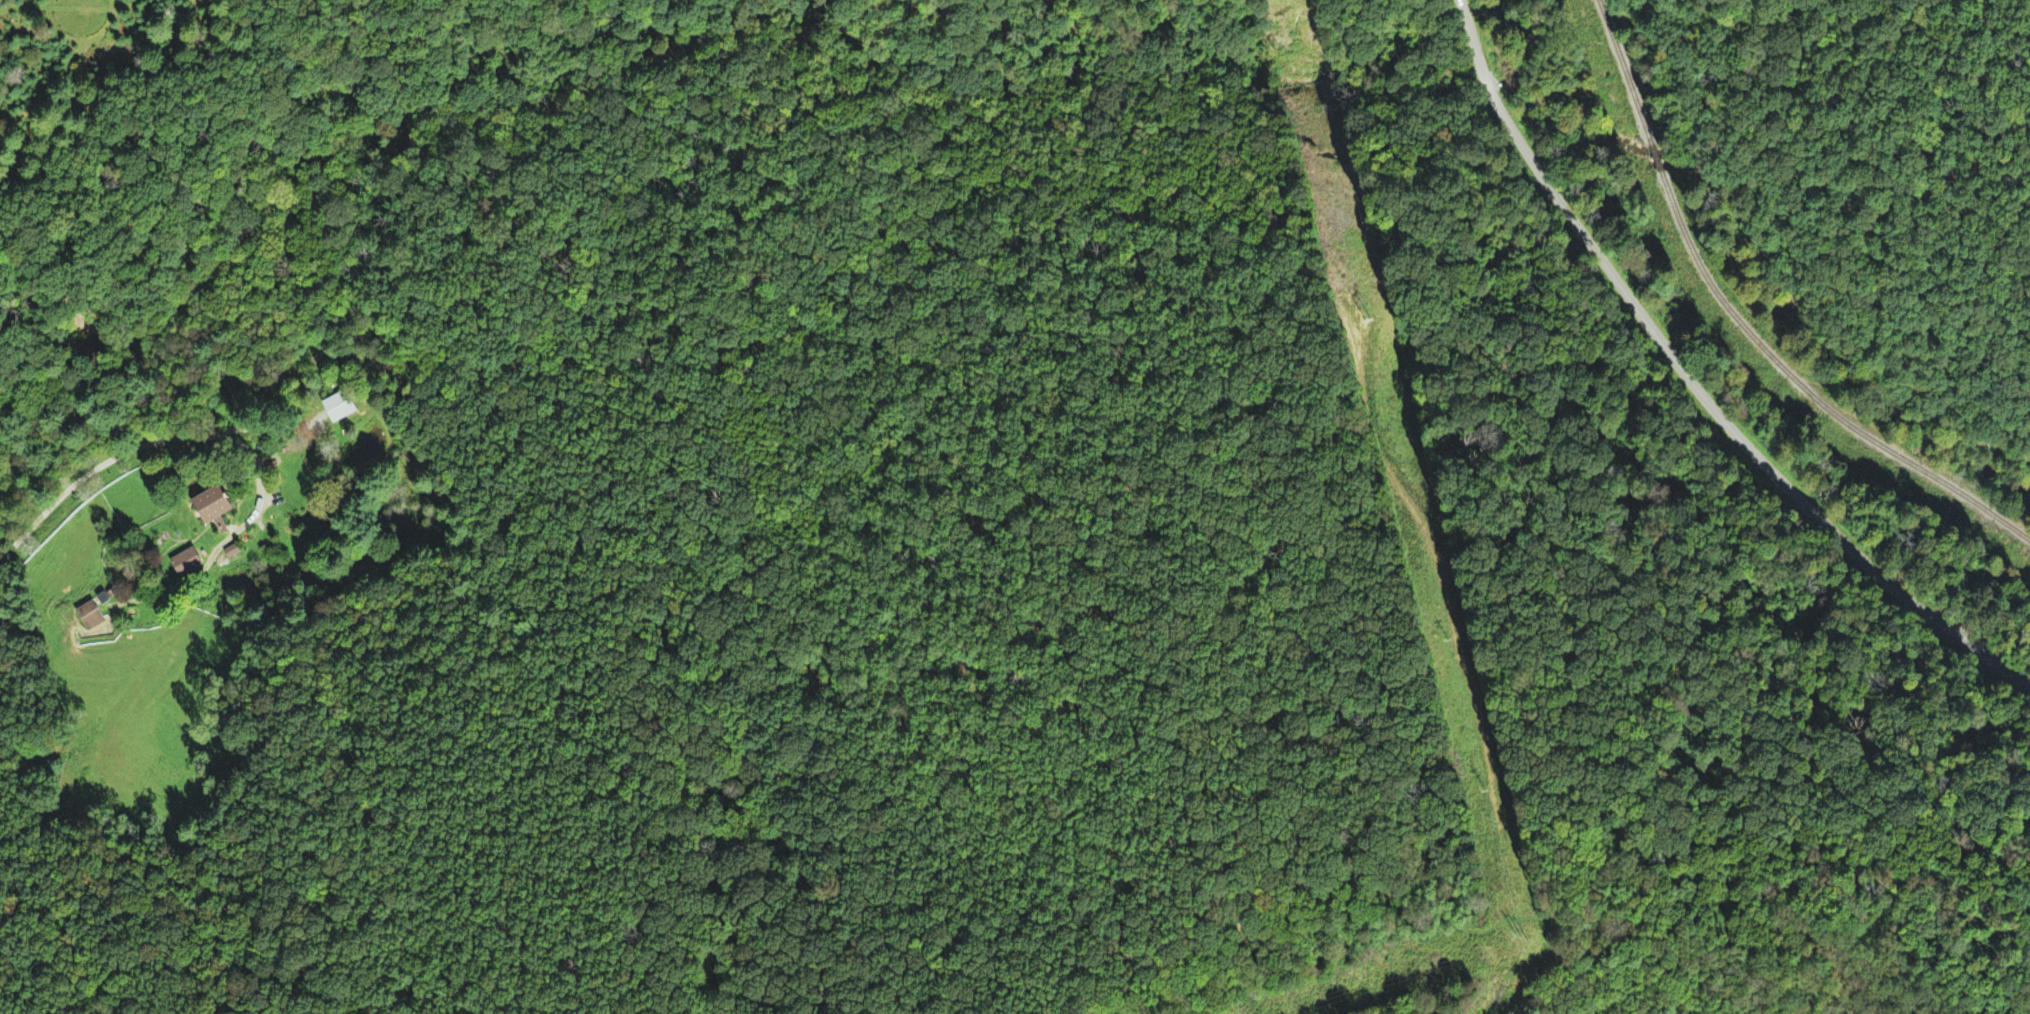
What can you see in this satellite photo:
railway: (1622, 72)
railway: (1654, 158)
road: (1690, 388)
railway: (1807, 392)
building: (338, 406)
road: (116, 456)
building: (214, 504)
building: (186, 561)
building: (90, 616)

